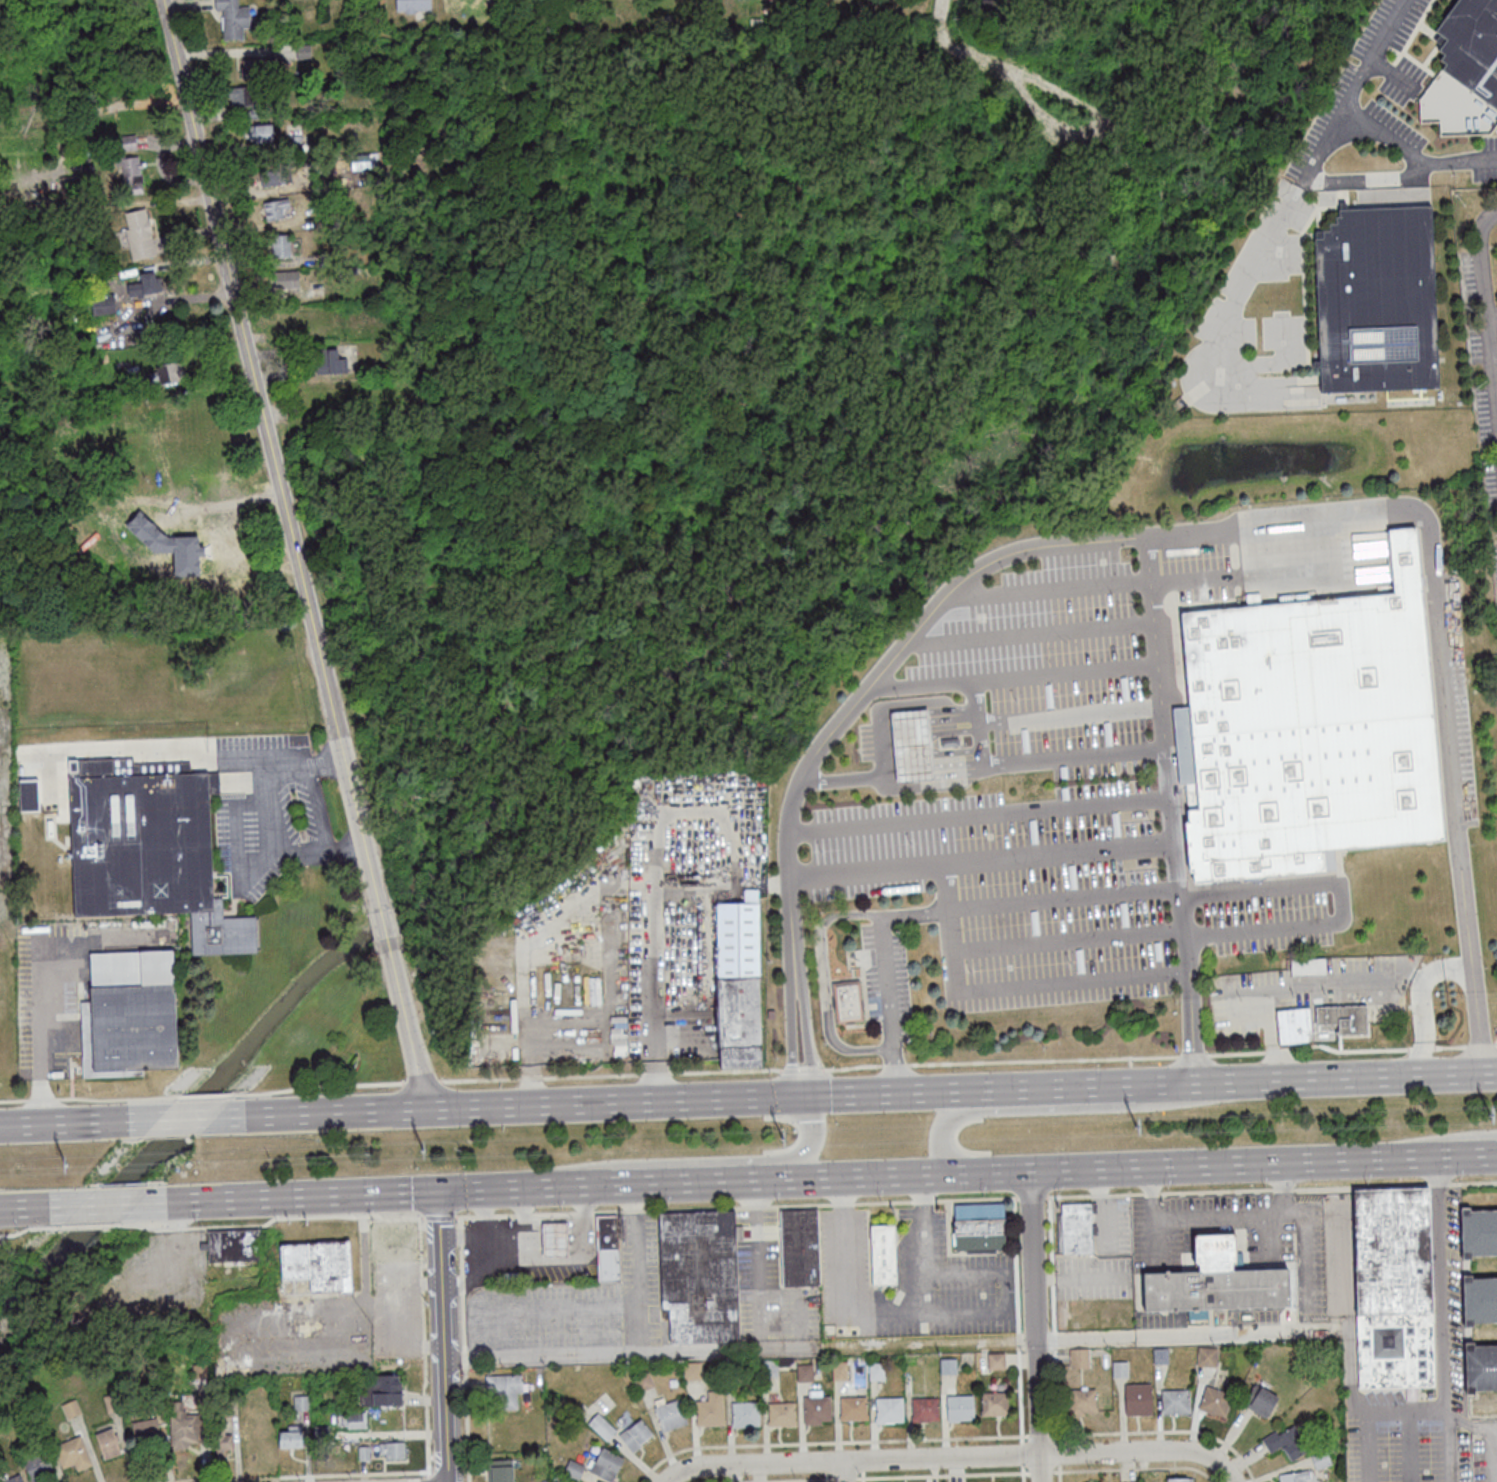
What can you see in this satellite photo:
building: (413, 5)
building: (234, 18)
building: (1472, 45)
building: (249, 86)
road: (1414, 88)
road: (1380, 133)
building: (261, 134)
building: (128, 142)
building: (295, 144)
building: (136, 174)
building: (276, 175)
building: (276, 208)
building: (140, 234)
building: (281, 245)
building: (286, 280)
building: (146, 284)
building: (1377, 300)
building: (104, 304)
road: (1487, 306)
road: (1492, 312)
building: (331, 361)
road: (1495, 367)
road: (281, 413)
road: (272, 456)
road: (1210, 531)
building: (178, 554)
road: (1013, 675)
river: (648, 680)
road: (893, 708)
road: (1068, 718)
building: (1306, 729)
road: (824, 739)
building: (950, 742)
building: (909, 745)
gas station: (909, 745)
road: (146, 748)
road: (1028, 762)
road: (887, 786)
road: (1455, 793)
building: (29, 795)
road: (1172, 809)
road: (980, 811)
road: (264, 816)
building: (146, 848)
road: (1060, 851)
road: (654, 858)
road: (1341, 899)
road: (383, 924)
road: (953, 966)
building: (1308, 966)
road: (883, 971)
road: (823, 979)
building: (737, 983)
road: (1300, 985)
road: (794, 986)
road: (1421, 1000)
building: (850, 1004)
building: (127, 1013)
building: (1344, 1017)
road: (405, 1022)
building: (1293, 1026)
road: (43, 1046)
road: (1293, 1079)
road: (1021, 1088)
traffic signals: (810, 1095)
traffic signals: (790, 1096)
road: (581, 1103)
power tower: (1490, 1113)
road: (183, 1117)
road: (77, 1121)
power tower: (1137, 1125)
power tower: (783, 1137)
road: (938, 1138)
road: (809, 1139)
road: (1469, 1140)
power tower: (425, 1148)
road: (1446, 1156)
power tower: (68, 1162)
road: (1183, 1165)
road: (956, 1172)
road: (865, 1176)
road: (698, 1181)
road: (560, 1185)
road: (1269, 1188)
road: (1282, 1189)
traffic signals: (436, 1191)
road: (323, 1195)
road: (1030, 1196)
road: (105, 1203)
road: (38, 1205)
road: (734, 1205)
road: (1099, 1209)
road: (437, 1216)
road: (1153, 1217)
road: (267, 1219)
road: (1230, 1219)
road: (85, 1225)
building: (977, 1226)
road: (27, 1227)
building: (1074, 1228)
building: (1478, 1233)
road: (483, 1235)
road: (520, 1235)
building: (392, 1240)
building: (553, 1240)
road: (1303, 1243)
building: (229, 1245)
building: (797, 1247)
building: (605, 1248)
building: (881, 1255)
road: (755, 1256)
road: (551, 1257)
building: (315, 1263)
road: (478, 1266)
road: (634, 1269)
building: (697, 1276)
road: (1080, 1277)
parking lot: (909, 1279)
building: (1212, 1283)
building: (1390, 1287)
road: (1001, 1290)
road: (797, 1294)
building: (1479, 1301)
road: (884, 1311)
road: (1051, 1319)
road: (1015, 1320)
building: (1072, 1324)
road: (1033, 1326)
road: (1238, 1332)
road: (442, 1336)
road: (1084, 1337)
road: (422, 1347)
road: (462, 1348)
road: (738, 1349)
building: (1158, 1356)
building: (1205, 1356)
building: (1077, 1358)
building: (994, 1361)
building: (945, 1366)
building: (669, 1368)
building: (766, 1368)
building: (1480, 1368)
building: (732, 1369)
building: (1117, 1369)
building: (197, 1370)
building: (690, 1370)
building: (836, 1371)
building: (873, 1371)
building: (802, 1372)
road: (1444, 1375)
building: (642, 1381)
building: (501, 1390)
building: (379, 1391)
building: (1136, 1400)
building: (1257, 1400)
building: (1080, 1401)
building: (1172, 1401)
building: (1212, 1401)
building: (109, 1402)
building: (298, 1402)
building: (992, 1404)
building: (228, 1408)
building: (957, 1408)
building: (68, 1409)
building: (708, 1409)
building: (814, 1409)
building: (850, 1409)
building: (923, 1409)
building: (887, 1410)
building: (742, 1414)
building: (779, 1414)
building: (668, 1415)
building: (352, 1421)
building: (183, 1426)
building: (599, 1426)
road: (1467, 1426)
building: (143, 1429)
road: (1161, 1430)
building: (36, 1431)
building: (319, 1433)
building: (633, 1435)
road: (1037, 1435)
building: (288, 1437)
building: (219, 1440)
road: (826, 1442)
building: (106, 1443)
building: (1285, 1443)
road: (1447, 1446)
road: (1356, 1447)
building: (390, 1449)
building: (1329, 1450)
building: (361, 1452)
road: (1490, 1452)
building: (70, 1453)
road: (1057, 1453)
road: (463, 1454)
road: (1020, 1454)
road: (445, 1455)
road: (429, 1456)
road: (942, 1456)
building: (1319, 1460)
building: (604, 1465)
building: (35, 1467)
road: (1133, 1467)
building: (572, 1469)
building: (498, 1470)
road: (844, 1471)
road: (1040, 1472)
road: (1227, 1472)
road: (1022, 1473)
road: (1058, 1473)
road: (941, 1474)
road: (292, 1475)
building: (1294, 1476)
road: (843, 1478)
building: (12, 1479)
road: (427, 1479)
road: (766, 1479)
road: (862, 1479)
building: (1179, 1479)
road: (825, 1480)
building: (542, 1481)

